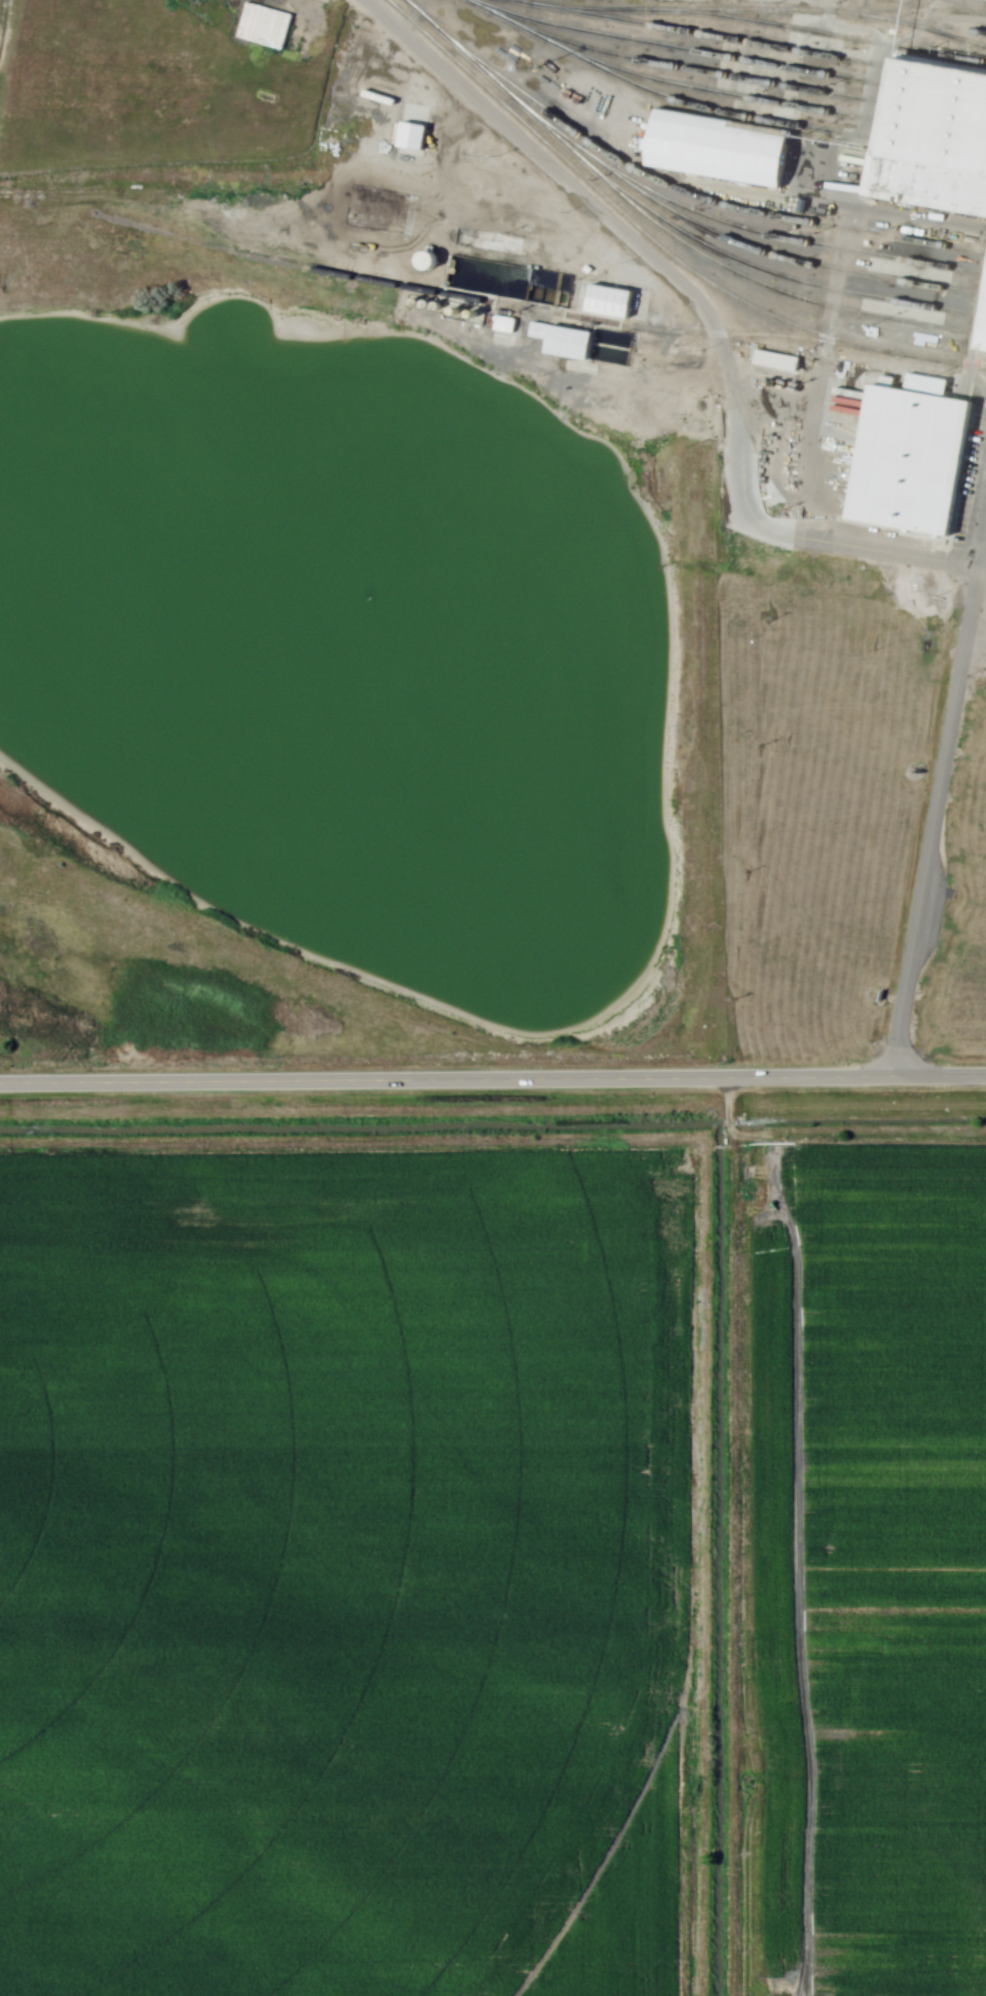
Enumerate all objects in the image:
railway: (955, 6)
railway: (746, 11)
railway: (891, 20)
railway: (935, 26)
railway: (838, 34)
railway: (721, 37)
railway: (679, 47)
railway: (697, 70)
railway: (940, 77)
building: (381, 87)
railway: (724, 93)
railway: (938, 94)
railway: (665, 96)
railway: (936, 112)
railway: (935, 129)
building: (932, 139)
building: (717, 149)
railway: (933, 150)
railway: (707, 199)
railway: (888, 205)
road: (835, 212)
railway: (660, 228)
railway: (796, 241)
railway: (654, 243)
railway: (743, 244)
building: (425, 259)
railway: (787, 278)
road: (689, 292)
railway: (472, 299)
building: (613, 300)
road: (387, 306)
building: (507, 321)
building: (542, 328)
railway: (984, 334)
building: (984, 336)
building: (571, 342)
railway: (958, 361)
building: (910, 458)
road: (982, 550)
road: (984, 551)
road: (980, 595)
parking lot: (976, 604)
road: (976, 636)
road: (934, 823)
road: (492, 1080)
crop: (896, 1563)
crop: (345, 1572)

